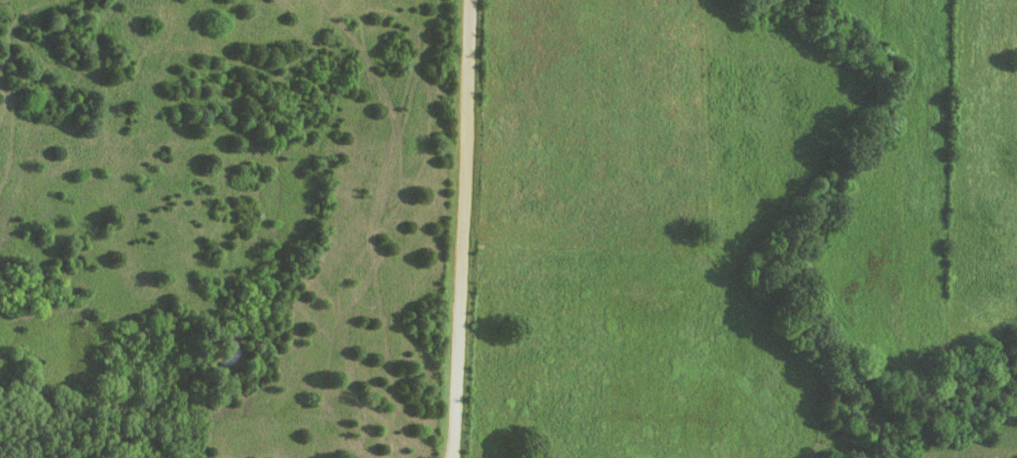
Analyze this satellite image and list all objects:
road: (468, 228)

